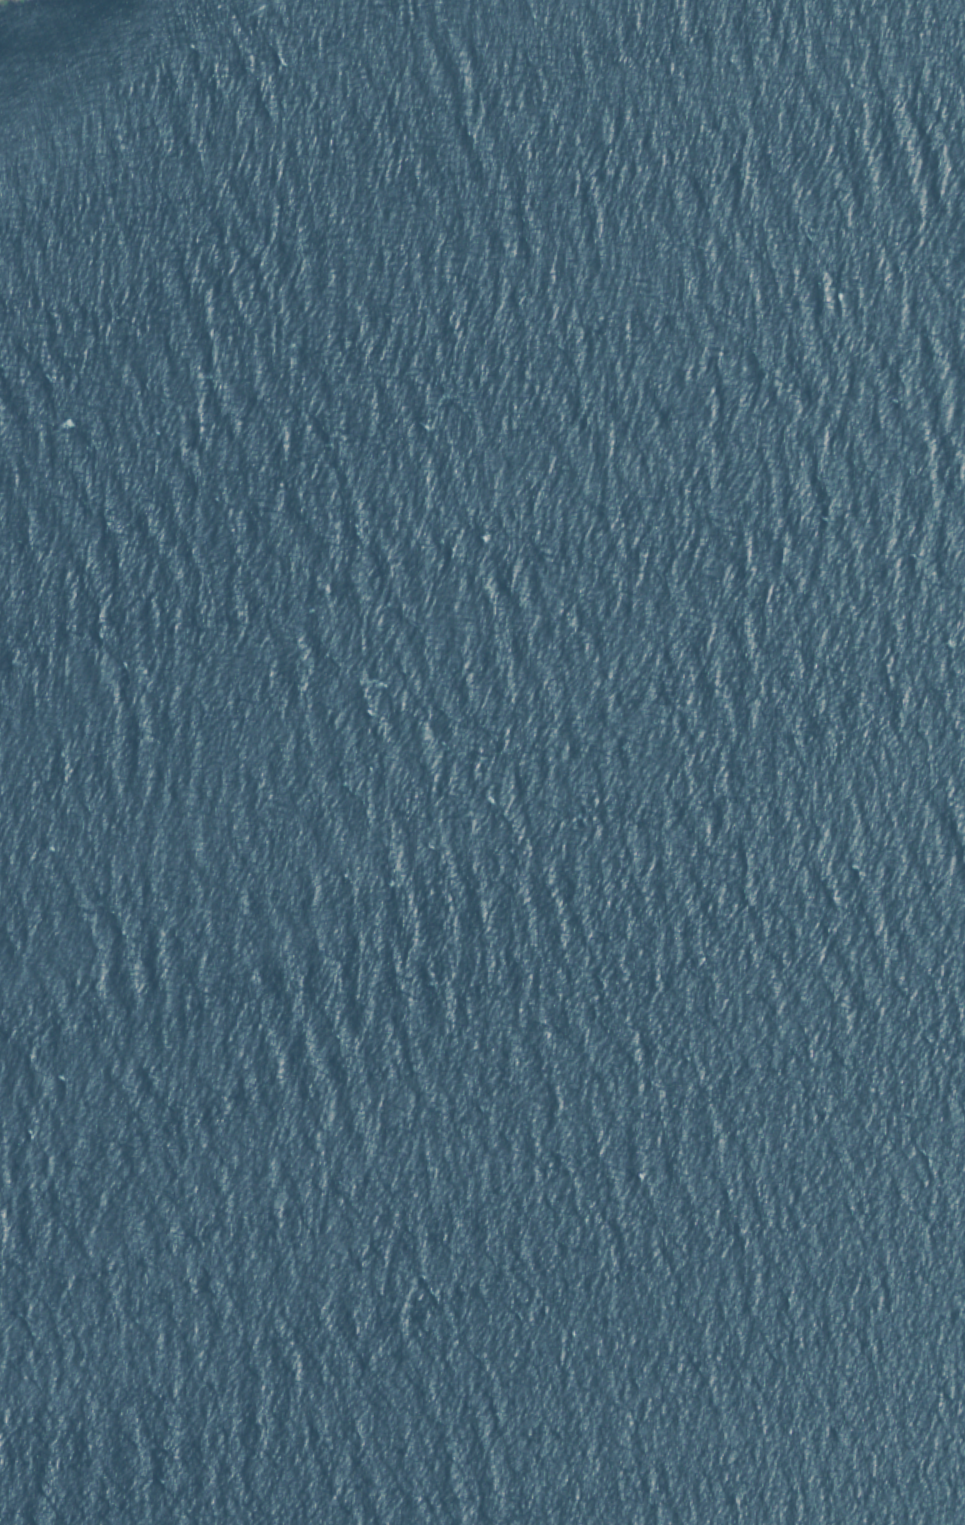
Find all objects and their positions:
river: (482, 1399)

